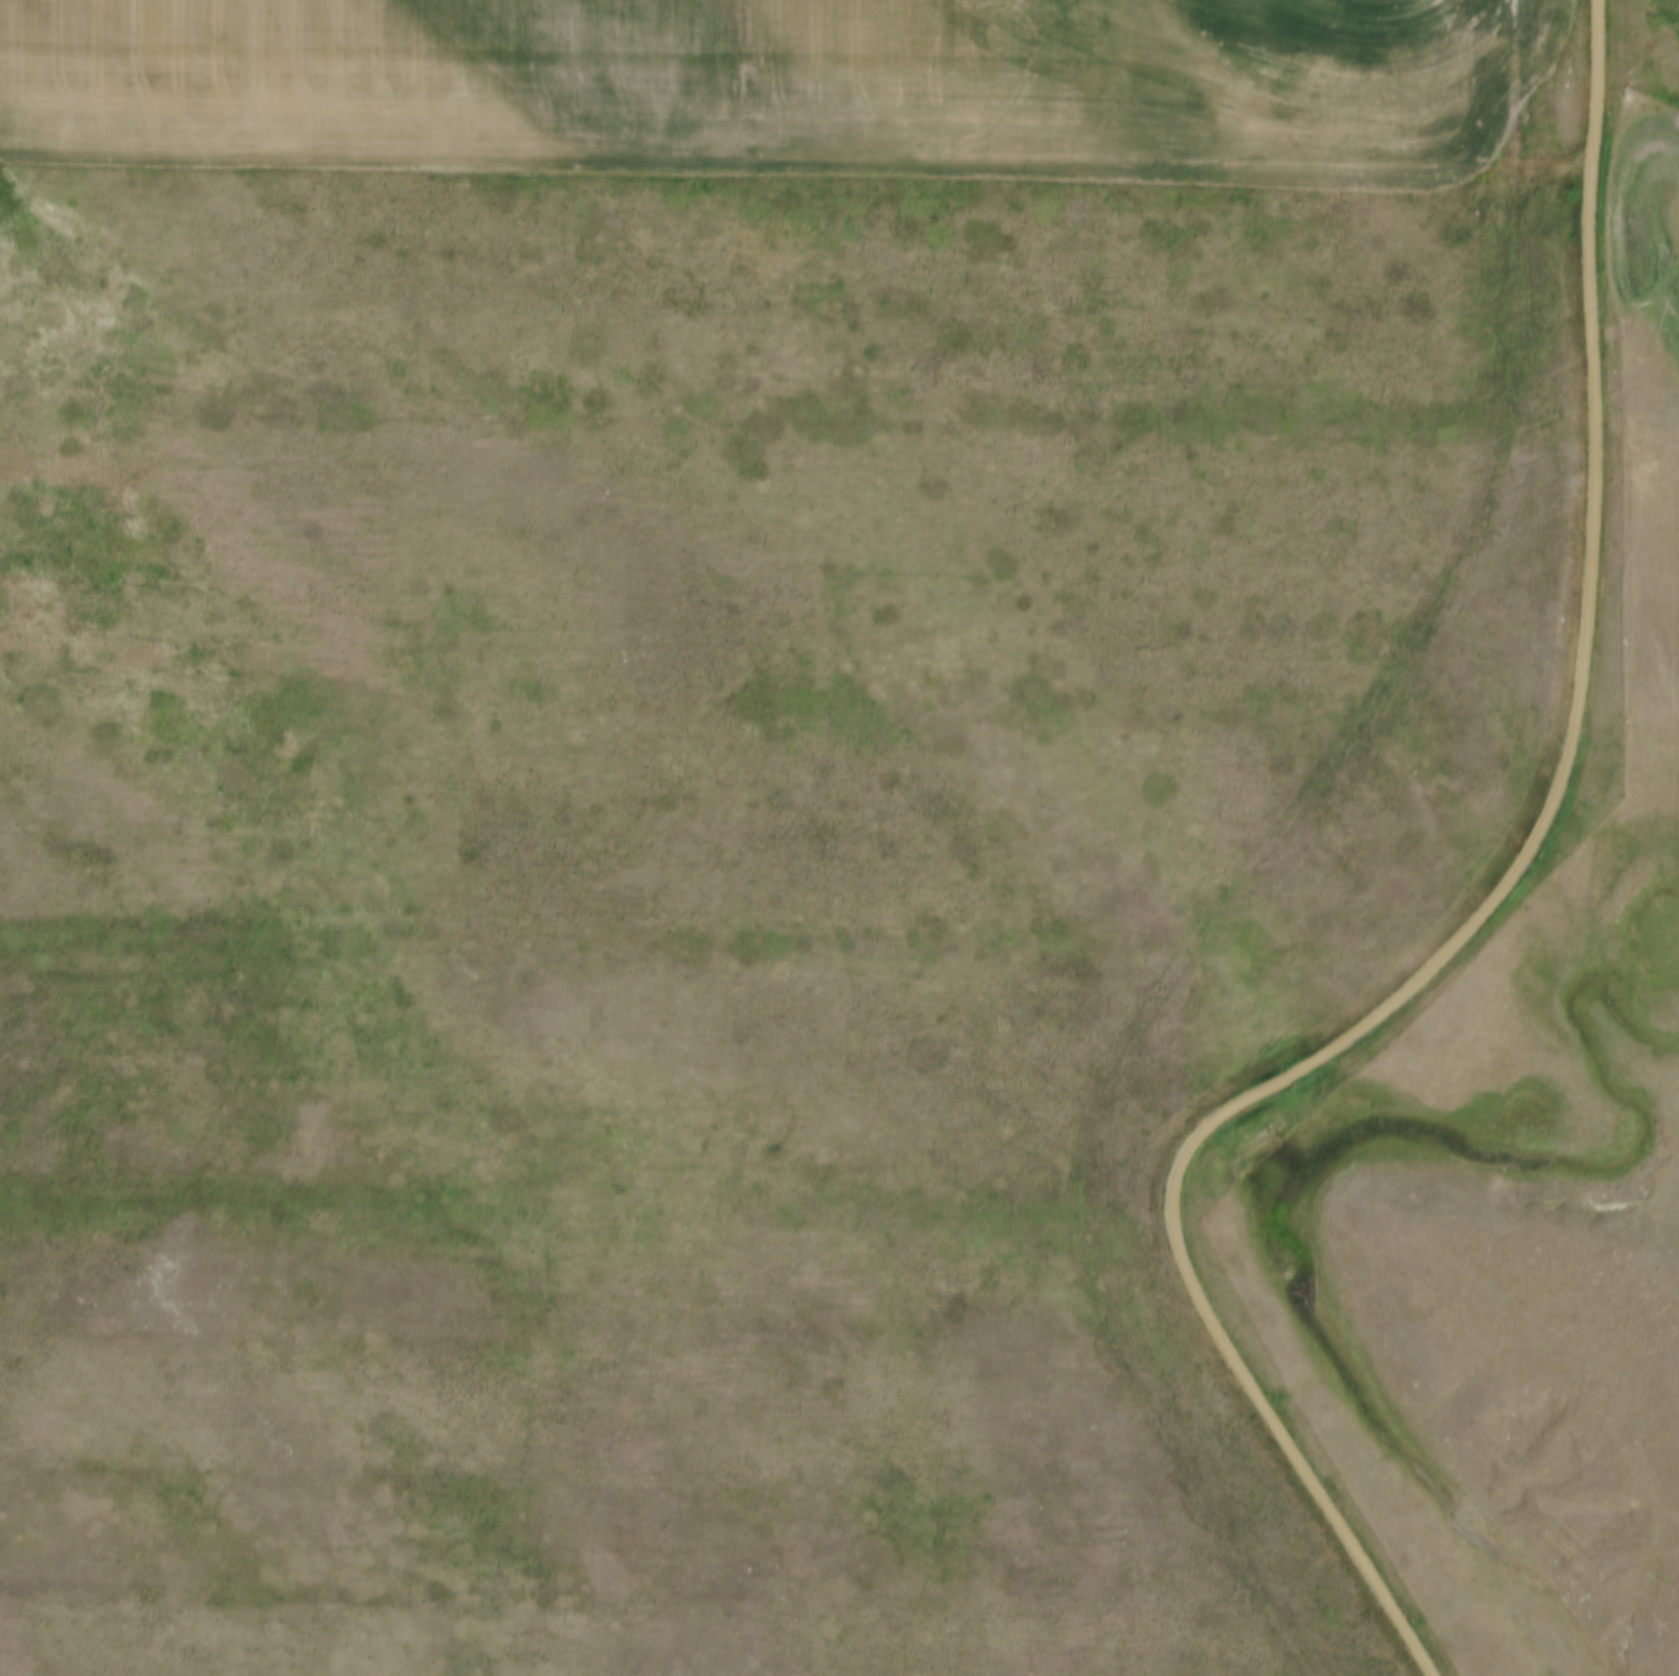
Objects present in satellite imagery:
road: (1471, 930)

